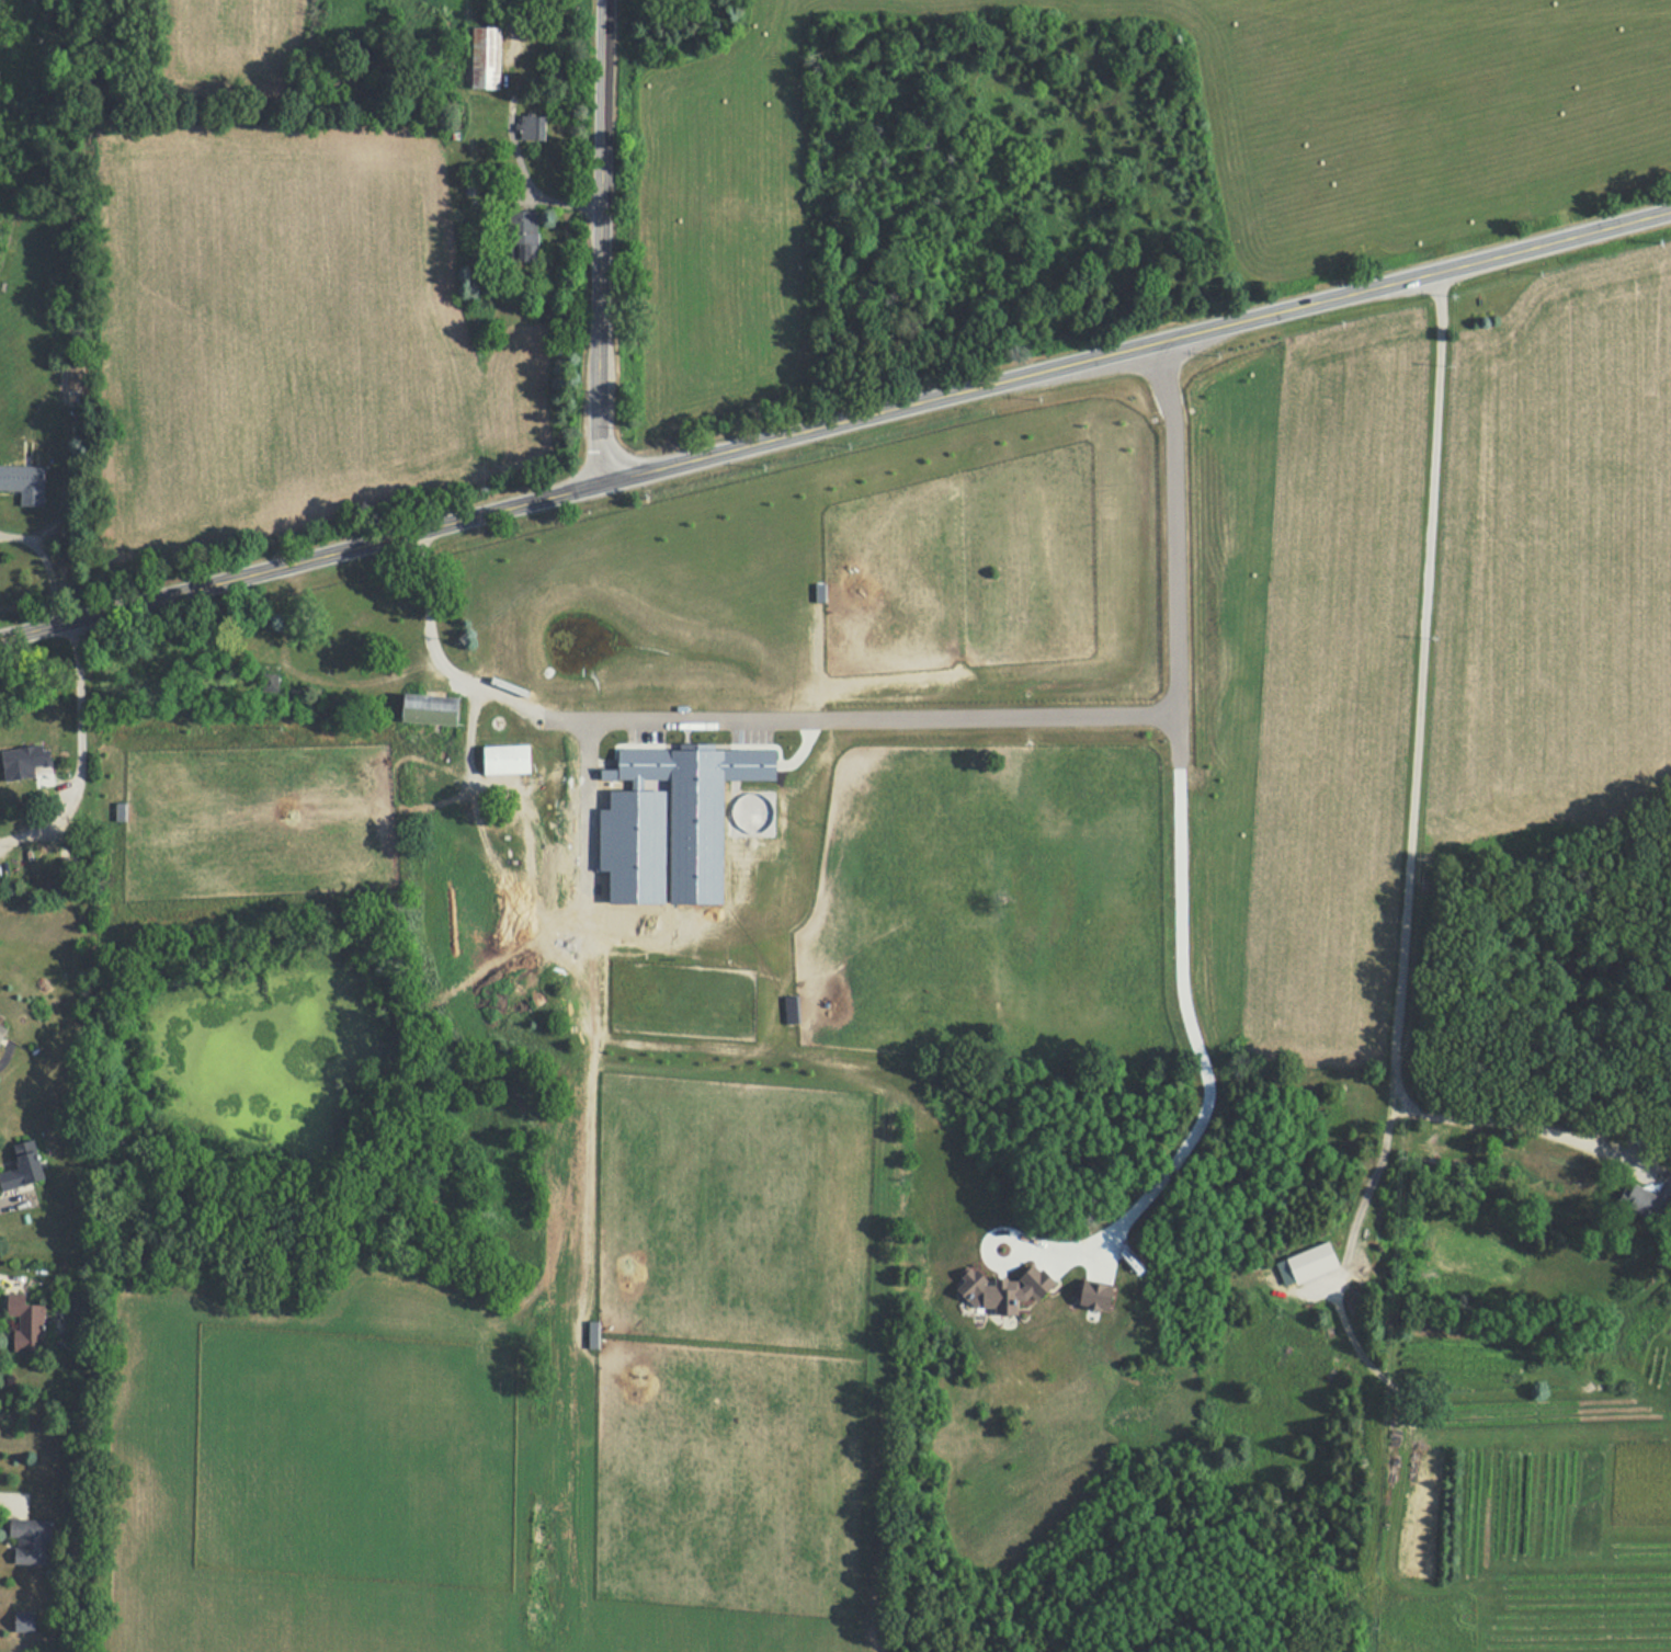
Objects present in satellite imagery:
crop: (238, 43)
building: (486, 59)
crop: (1420, 111)
building: (534, 128)
crop: (731, 196)
building: (524, 238)
road: (600, 242)
crop: (291, 329)
road: (835, 423)
building: (24, 482)
road: (53, 560)
crop: (1424, 609)
building: (252, 636)
building: (433, 710)
road: (1065, 738)
road: (79, 754)
building: (31, 756)
building: (508, 760)
road: (1416, 784)
building: (2, 1032)
road: (1187, 1034)
road: (1373, 1165)
building: (24, 1167)
building: (1649, 1199)
building: (1314, 1262)
building: (26, 1322)
building: (31, 1540)
building: (25, 1621)

